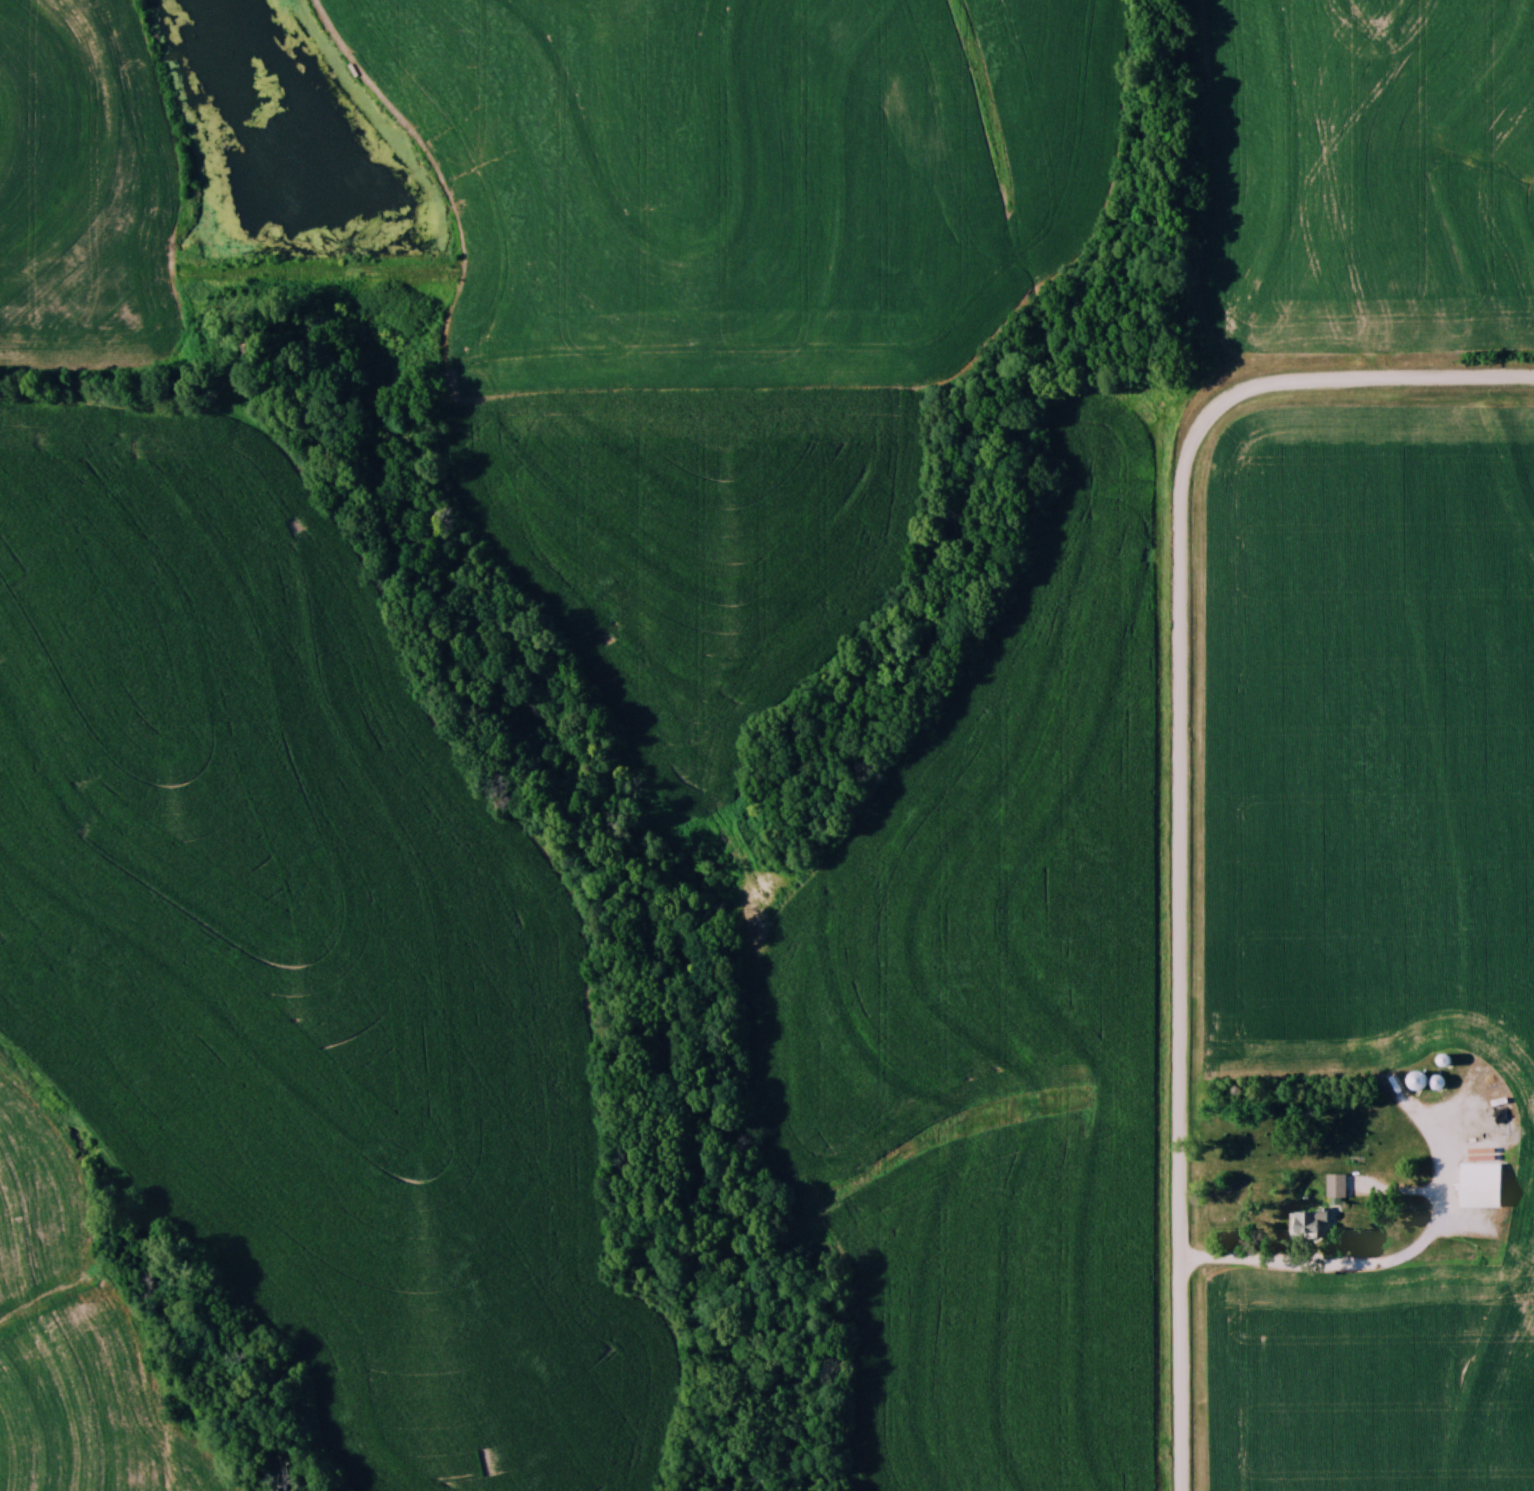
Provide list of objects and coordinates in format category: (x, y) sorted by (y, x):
road: (1182, 671)
building: (1415, 1080)
building: (1434, 1080)
building: (1479, 1112)
building: (1334, 1184)
building: (1477, 1184)
building: (1303, 1222)
road: (1369, 1267)
road: (1182, 1376)

